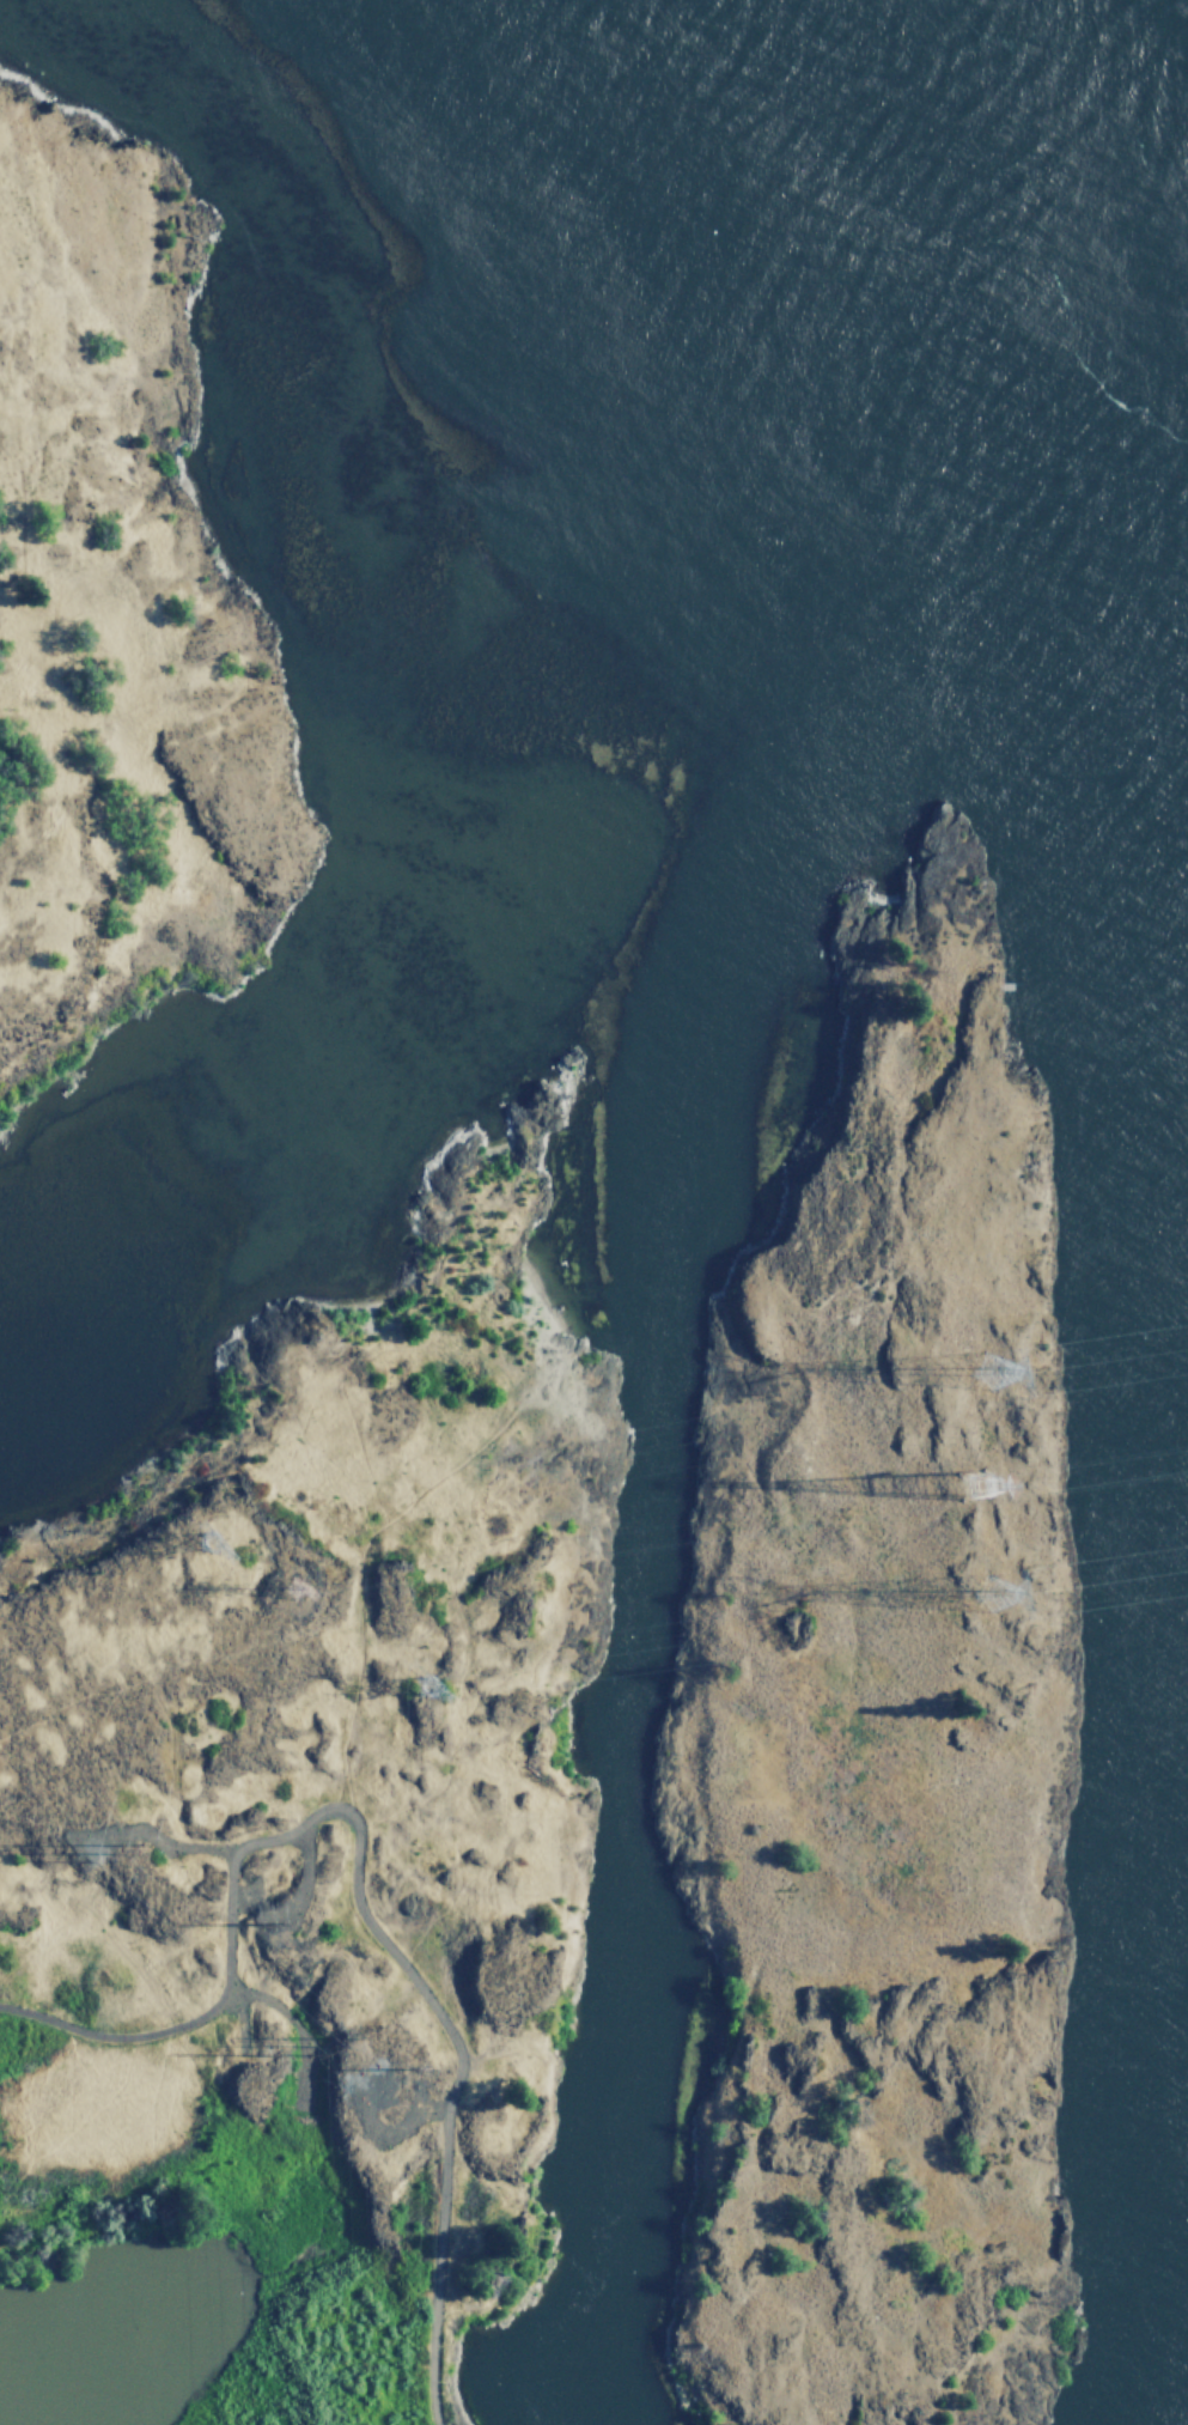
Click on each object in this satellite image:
lighthouse: (1032, 1166)
power tower: (999, 1374)
power tower: (983, 1488)
power tower: (219, 1554)
power tower: (998, 1592)
power tower: (300, 1594)
power tower: (441, 1697)
power tower: (90, 1849)
road: (355, 1878)
power tower: (266, 1920)
power tower: (328, 2044)
power tower: (272, 2054)
power tower: (422, 2066)

